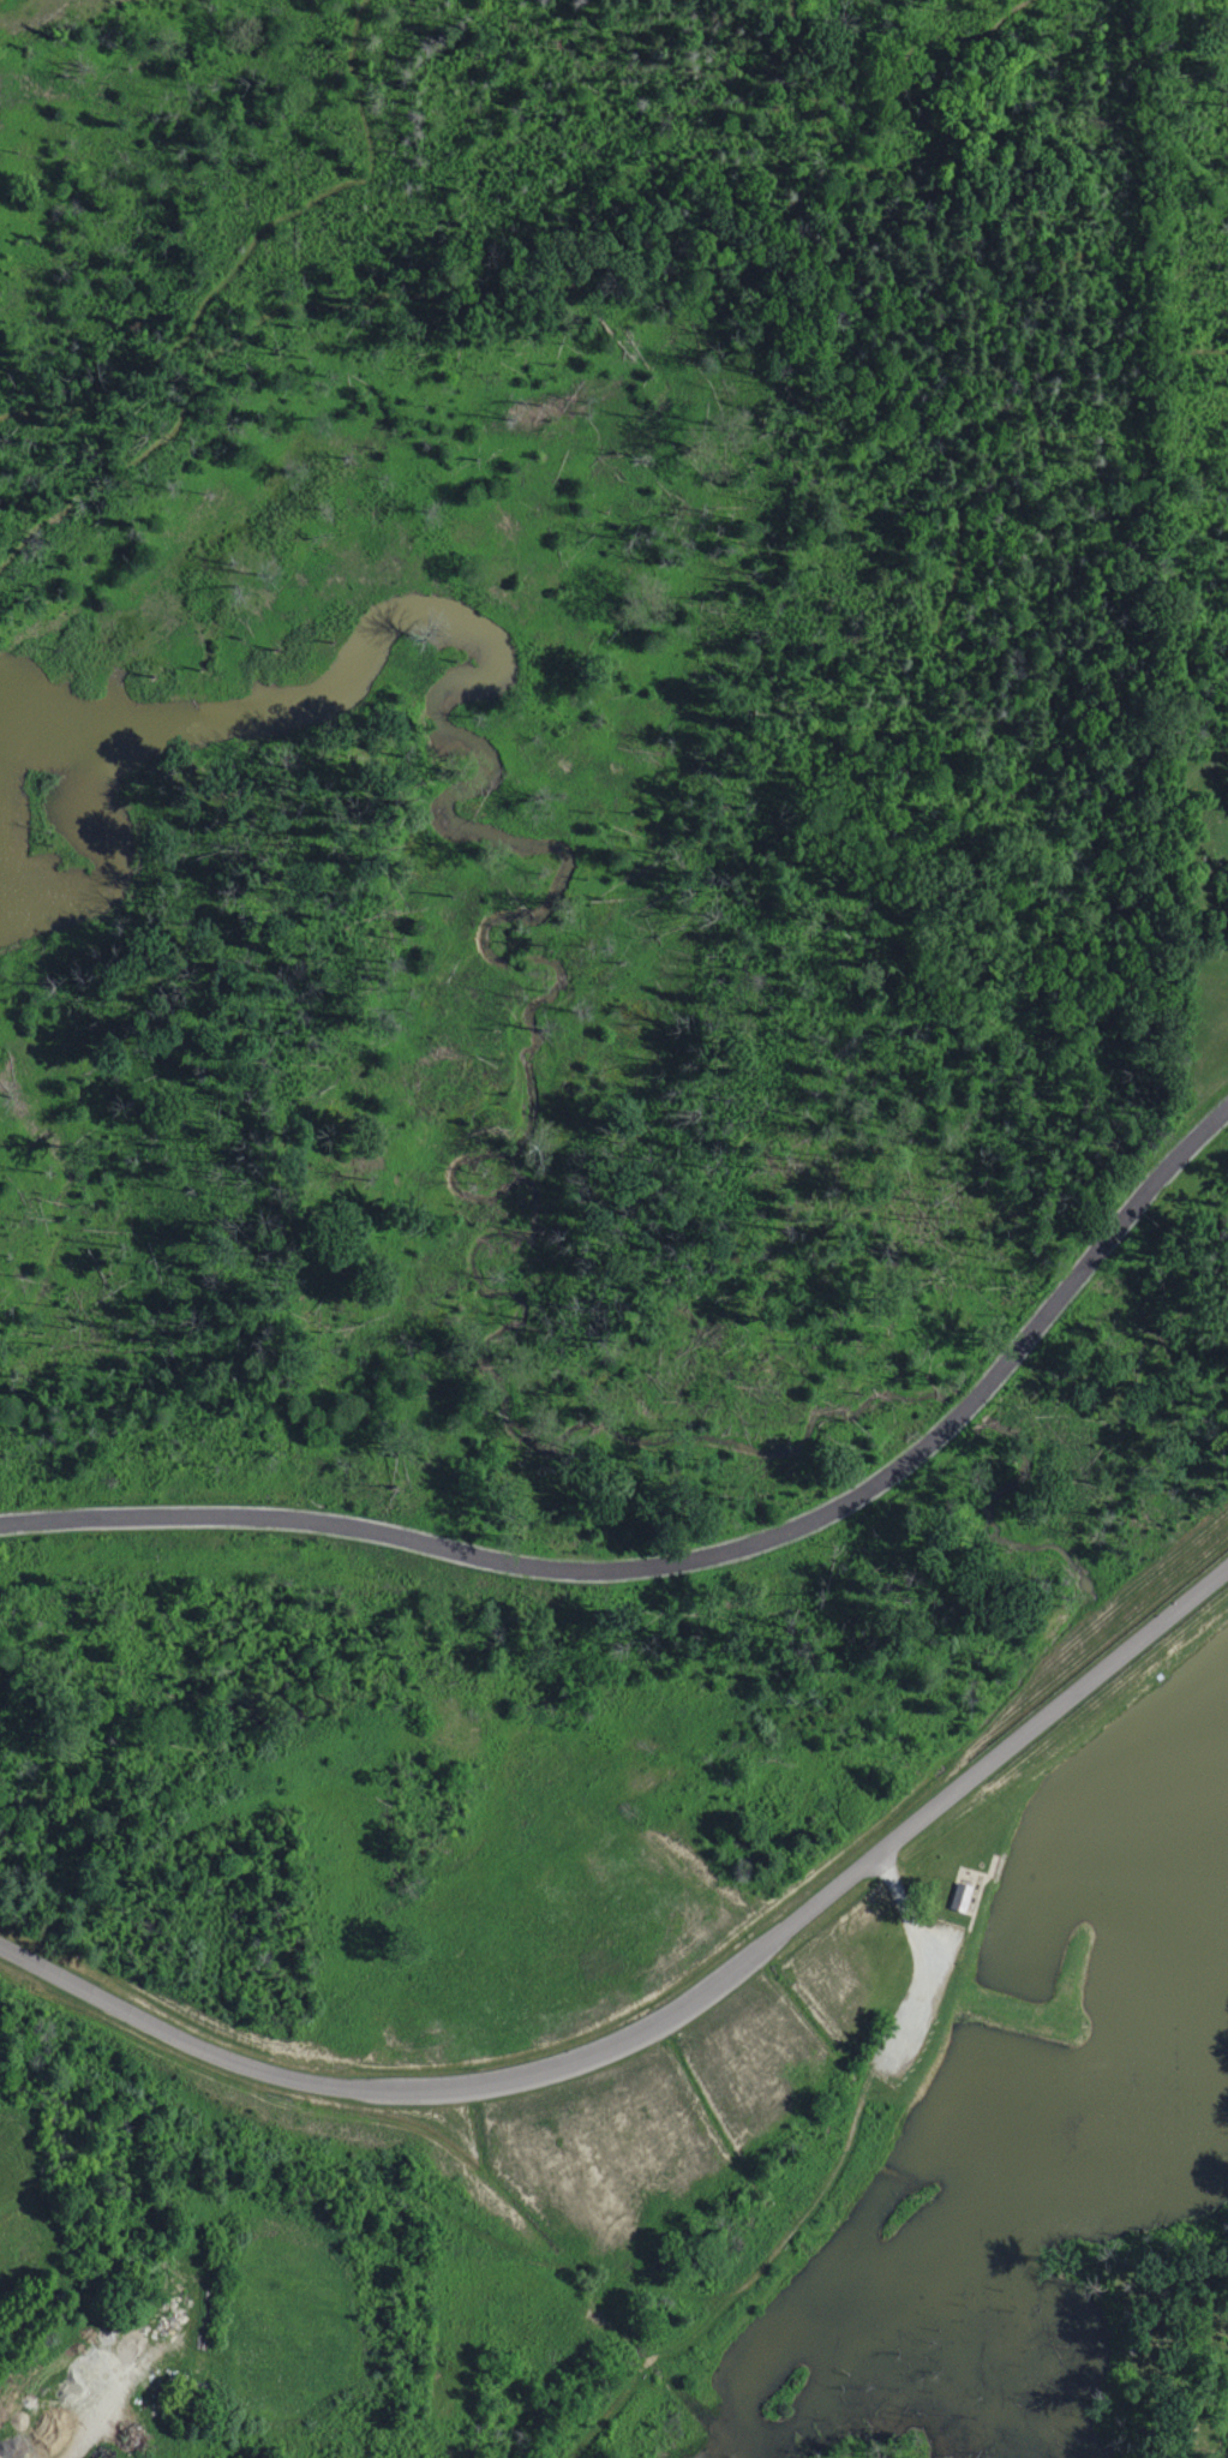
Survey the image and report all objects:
road: (1001, 11)
road: (333, 184)
road: (798, 287)
road: (1208, 351)
road: (17, 408)
road: (1109, 1230)
road: (962, 1405)
road: (474, 1554)
building: (960, 1895)
parking lot: (945, 1940)
road: (924, 1961)
road: (671, 2015)
parking lot: (907, 2039)
crop: (25, 2202)
road: (742, 2281)
road: (750, 2290)
road: (750, 2304)
road: (106, 2405)

